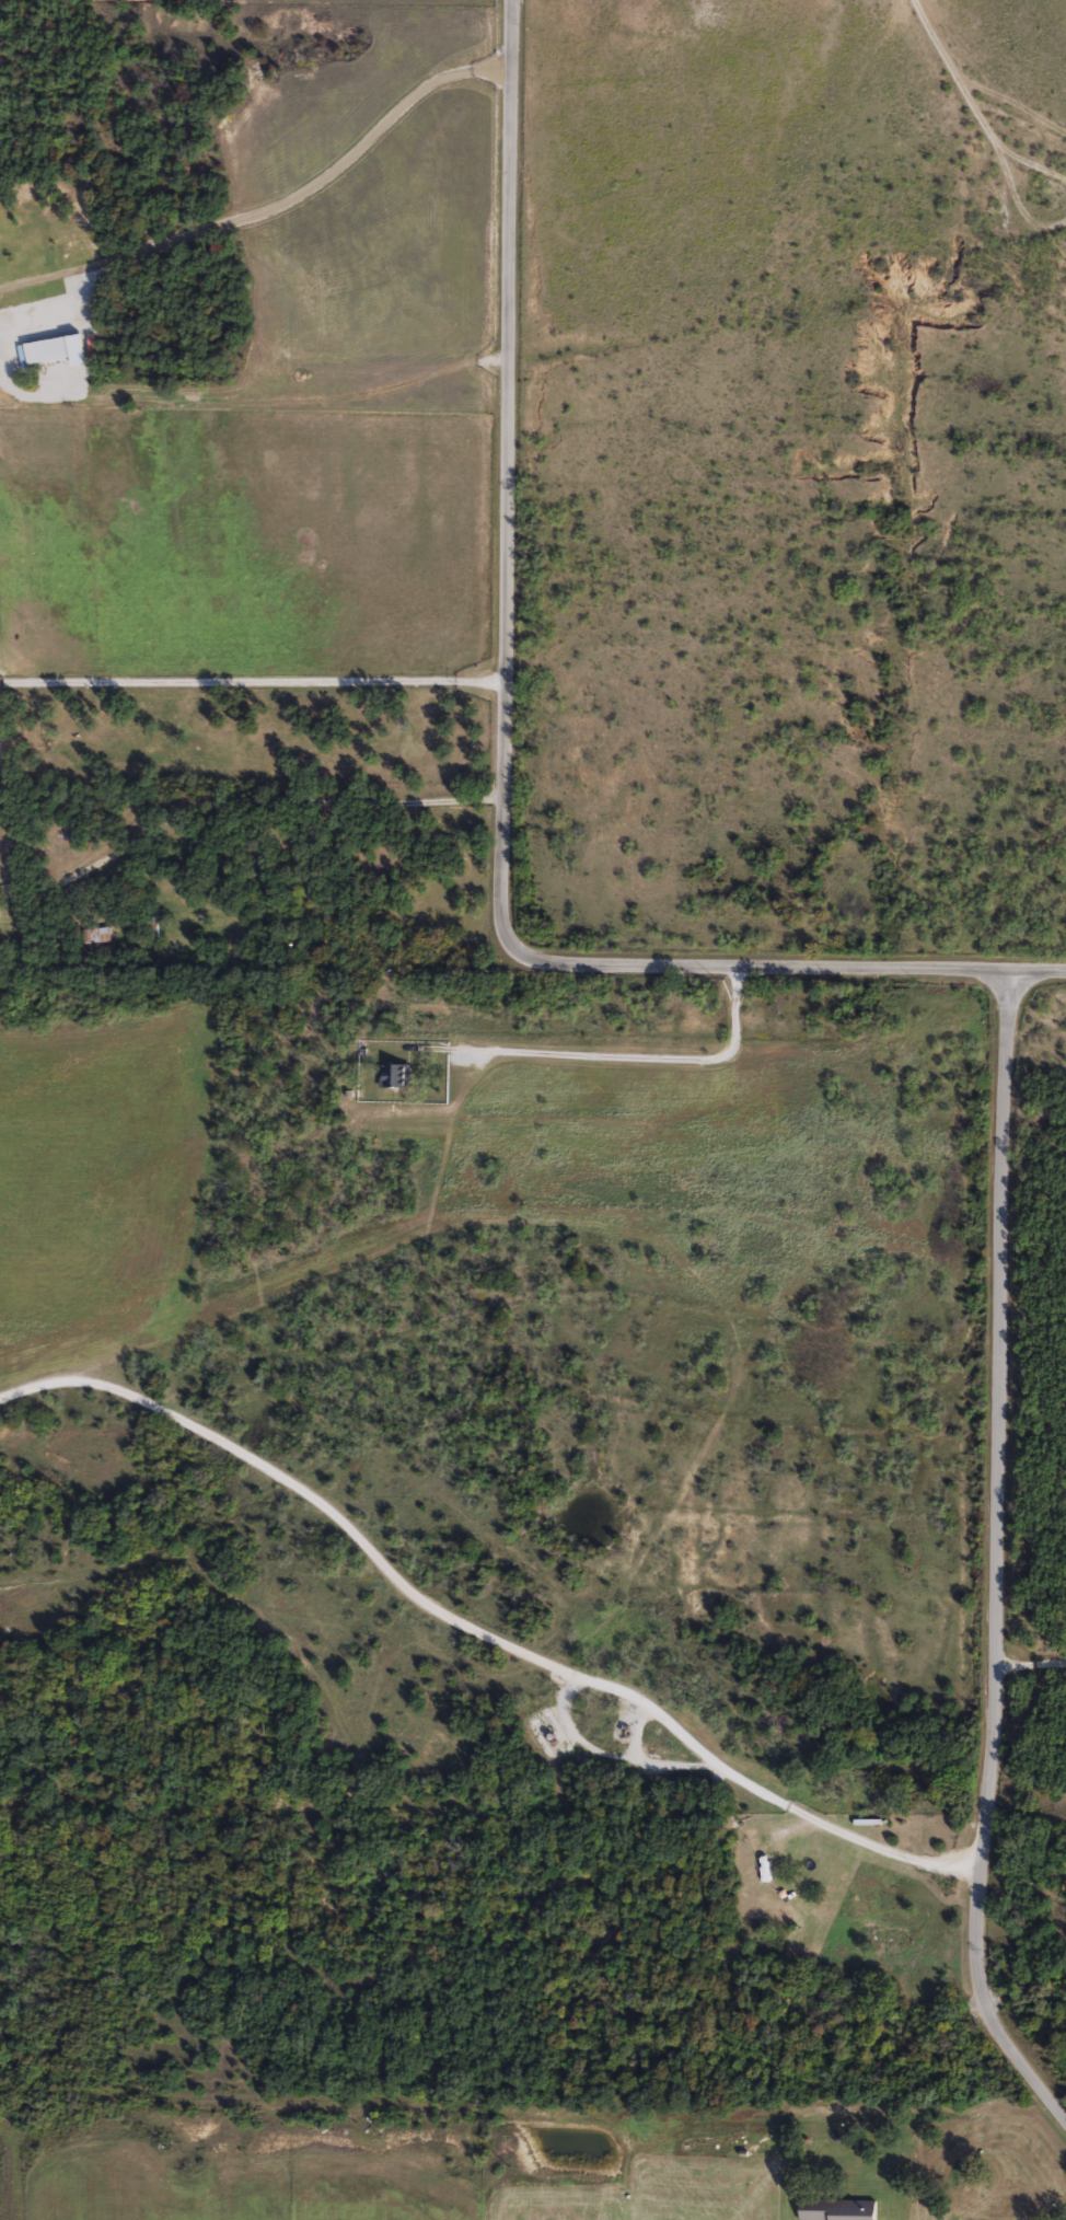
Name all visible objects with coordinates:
road: (273, 207)
building: (84, 338)
road: (252, 680)
road: (502, 752)
road: (259, 800)
building: (96, 935)
road: (634, 1055)
building: (395, 1075)
road: (997, 1556)
road: (480, 1631)
road: (1031, 1665)
building: (775, 1831)
building: (757, 1853)
building: (880, 1936)

